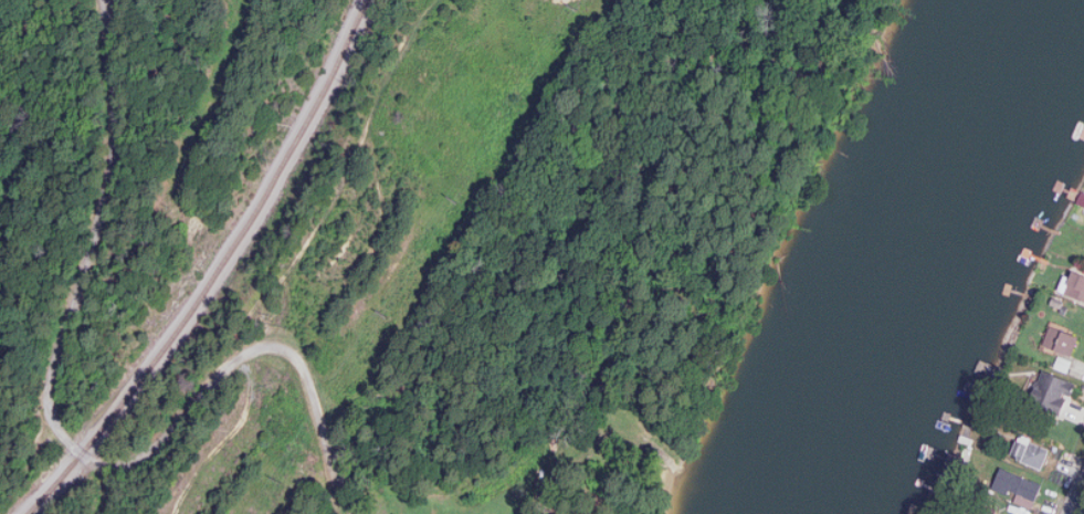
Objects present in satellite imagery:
power tower: (576, 4)
road: (621, 104)
road: (762, 171)
power tower: (455, 199)
park: (617, 245)
river: (919, 261)
railway: (219, 270)
building: (1076, 285)
power tower: (385, 312)
building: (1062, 340)
building: (1064, 363)
building: (1051, 391)
road: (67, 439)
building: (1030, 451)
power tower: (280, 479)
park: (376, 480)
building: (1019, 485)
road: (1075, 495)

